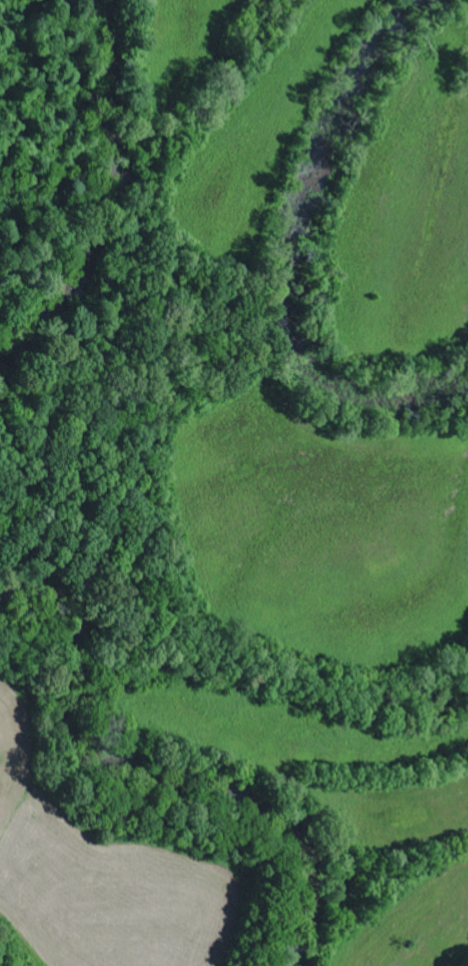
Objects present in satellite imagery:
river: (106, 195)
river: (170, 784)

